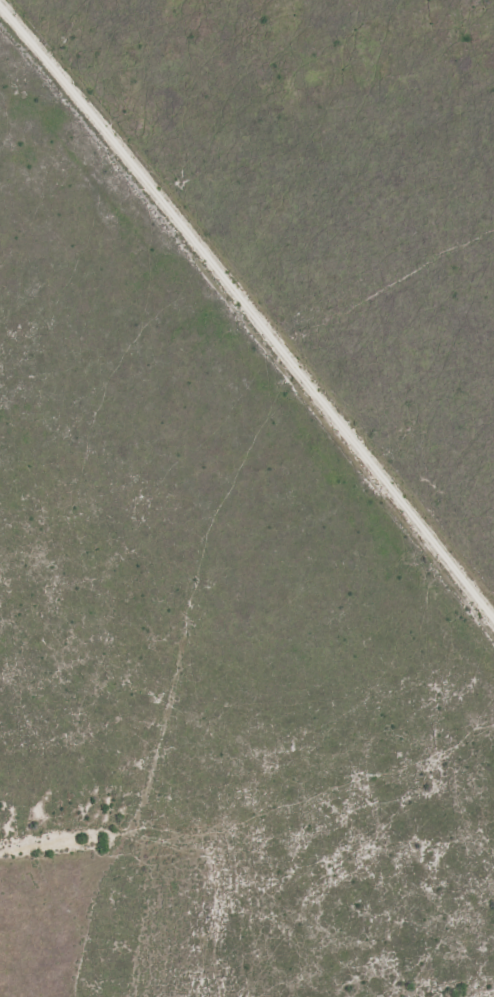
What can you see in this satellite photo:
road: (252, 324)

